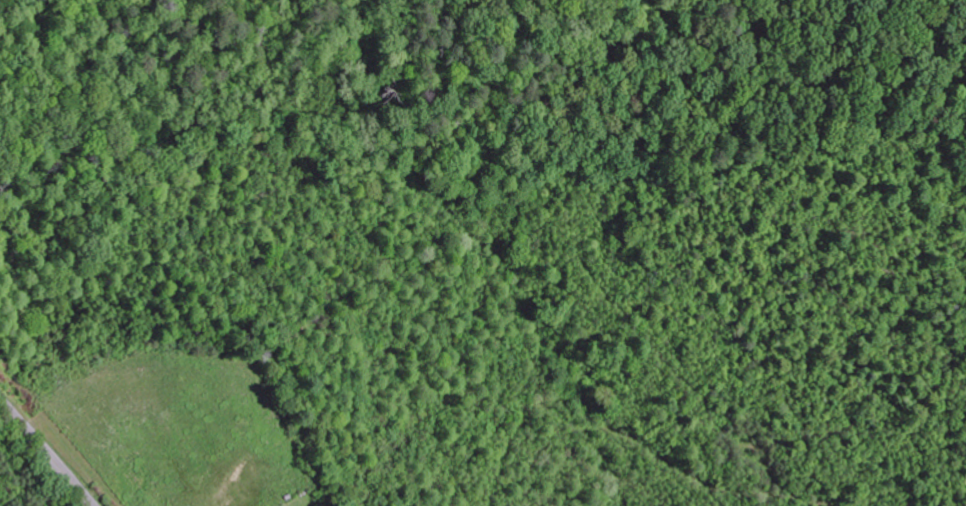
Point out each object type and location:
road: (47, 446)

